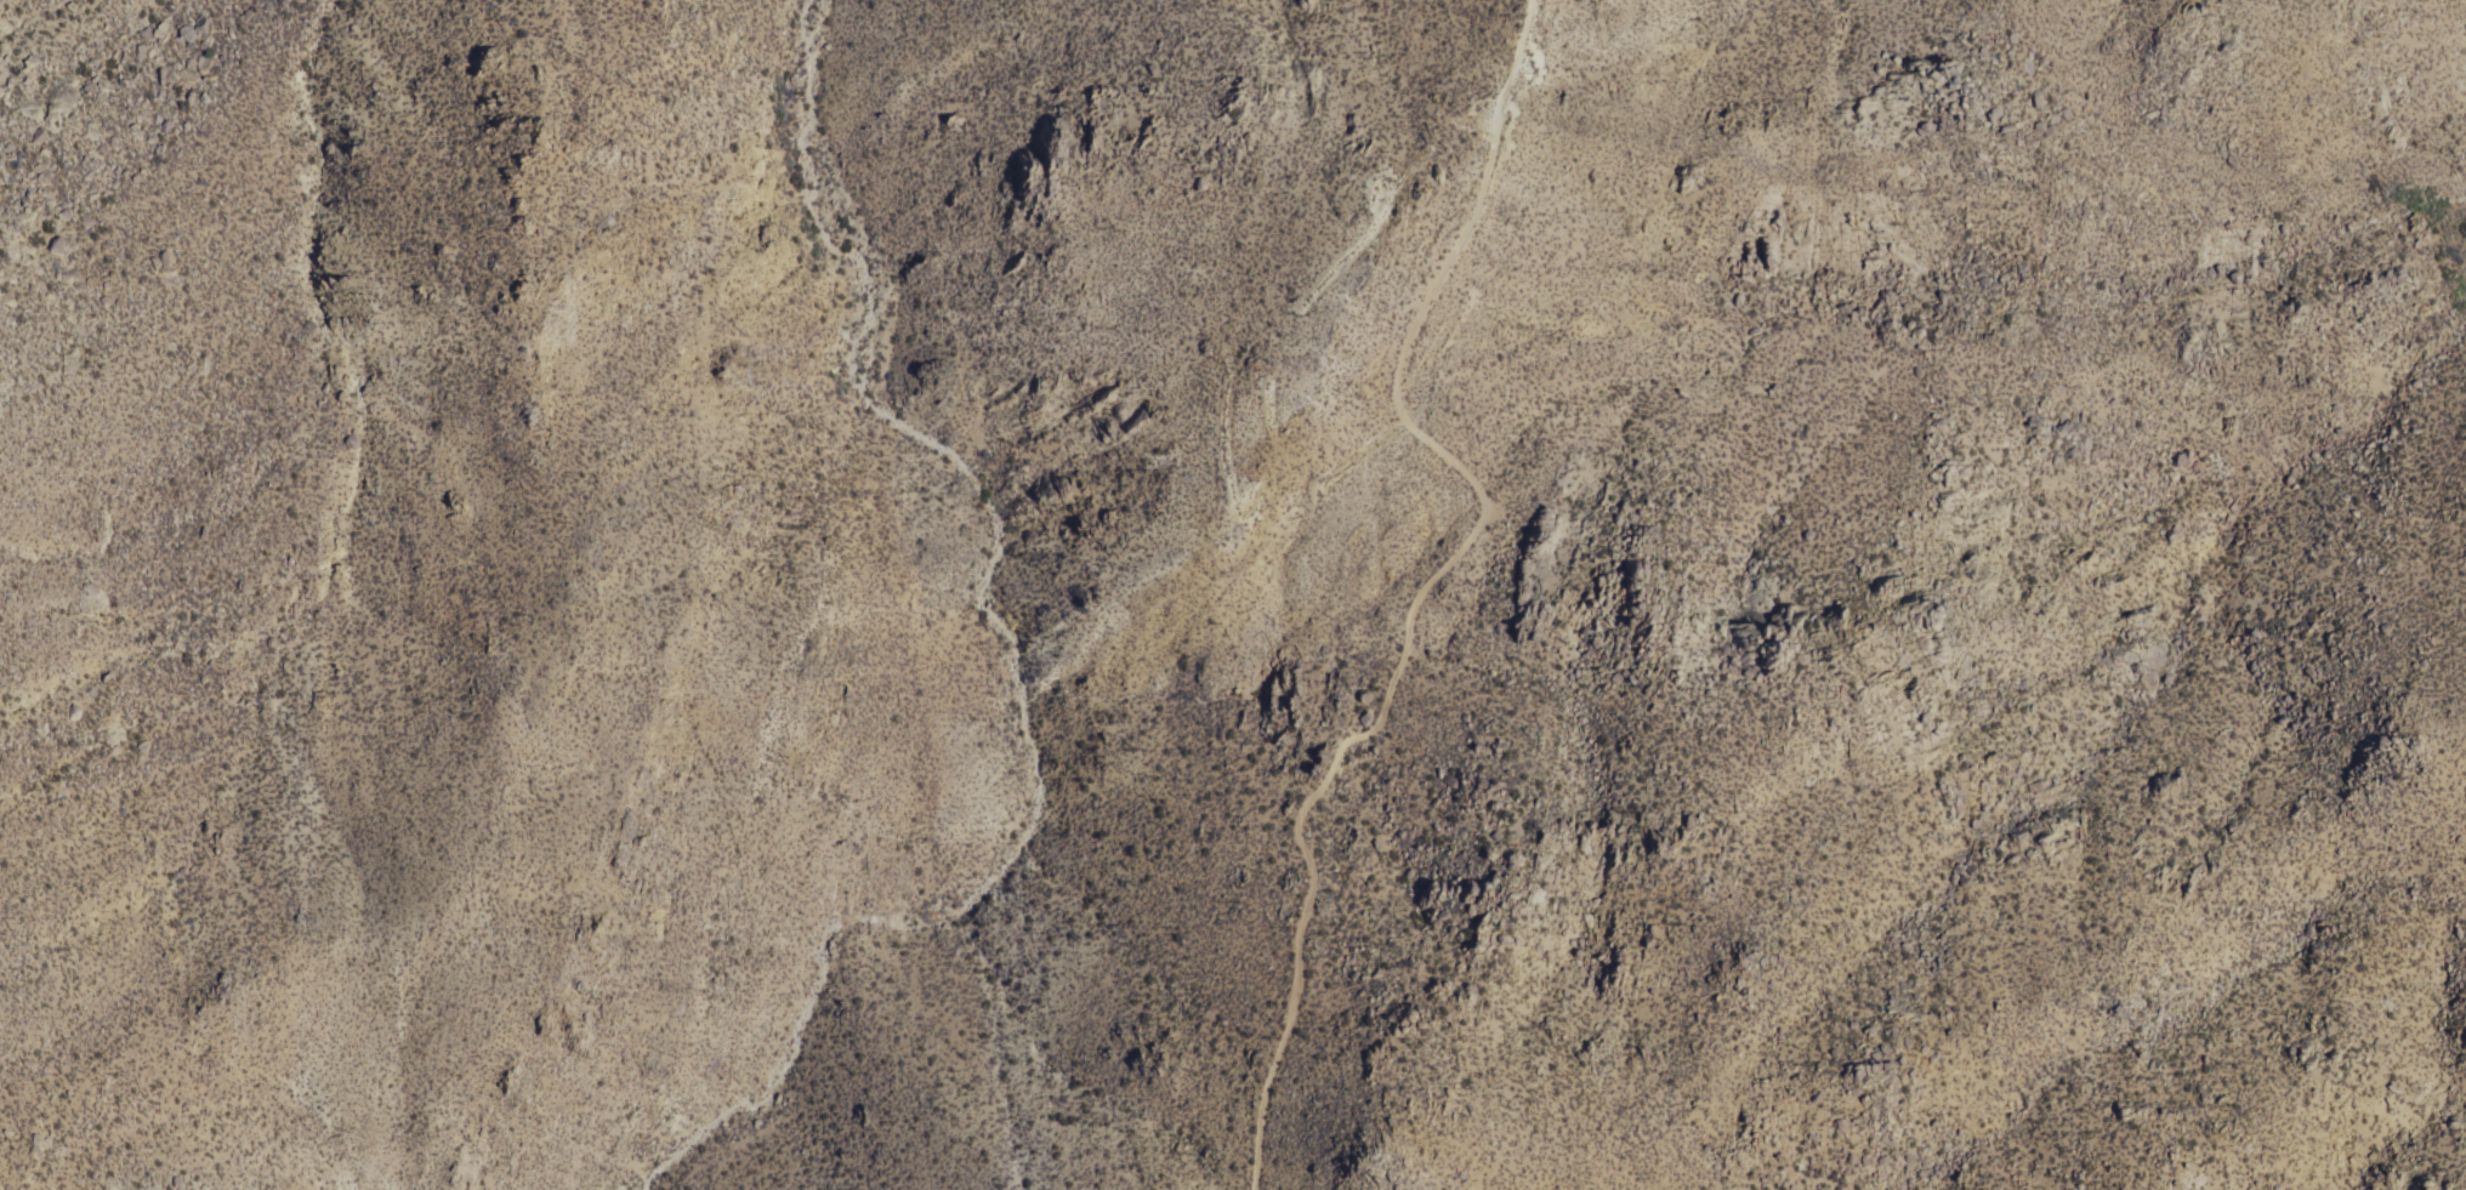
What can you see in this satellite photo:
road: (1427, 581)

